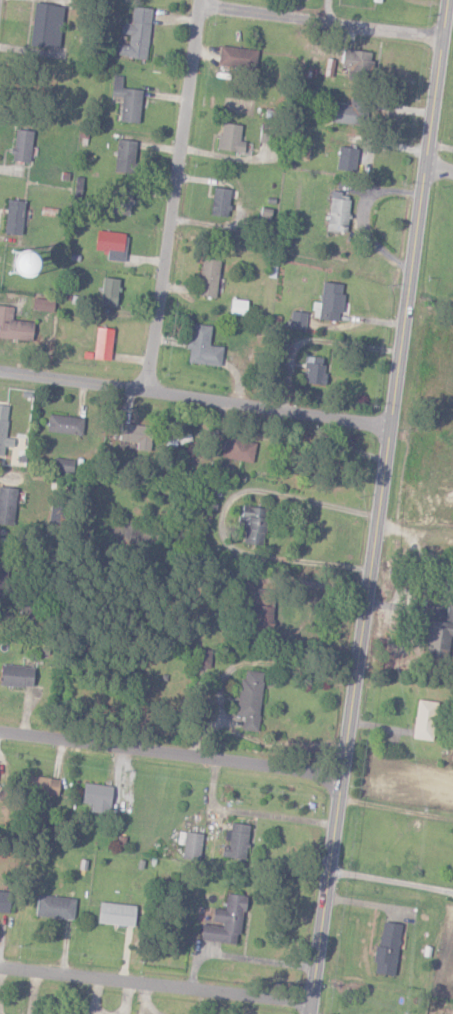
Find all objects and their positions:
road: (321, 21)
building: (46, 26)
building: (137, 34)
building: (238, 57)
building: (357, 61)
building: (127, 100)
building: (345, 112)
building: (267, 135)
building: (232, 138)
building: (22, 145)
building: (125, 155)
building: (347, 158)
road: (437, 174)
road: (167, 196)
building: (122, 199)
building: (221, 201)
building: (338, 214)
building: (14, 216)
building: (111, 244)
building: (21, 258)
building: (209, 276)
building: (109, 290)
building: (331, 301)
building: (44, 305)
building: (239, 306)
building: (298, 319)
building: (14, 325)
building: (103, 343)
building: (203, 346)
building: (315, 369)
road: (193, 400)
building: (65, 424)
building: (4, 428)
building: (137, 435)
road: (291, 440)
building: (238, 449)
building: (63, 464)
building: (7, 505)
road: (376, 507)
road: (223, 519)
building: (253, 524)
road: (301, 581)
building: (263, 610)
building: (439, 635)
building: (16, 675)
road: (220, 693)
building: (250, 698)
building: (425, 720)
road: (171, 756)
building: (42, 785)
building: (97, 797)
building: (236, 841)
road: (390, 881)
building: (4, 901)
building: (55, 907)
building: (116, 914)
building: (226, 921)
building: (388, 948)
road: (152, 990)

